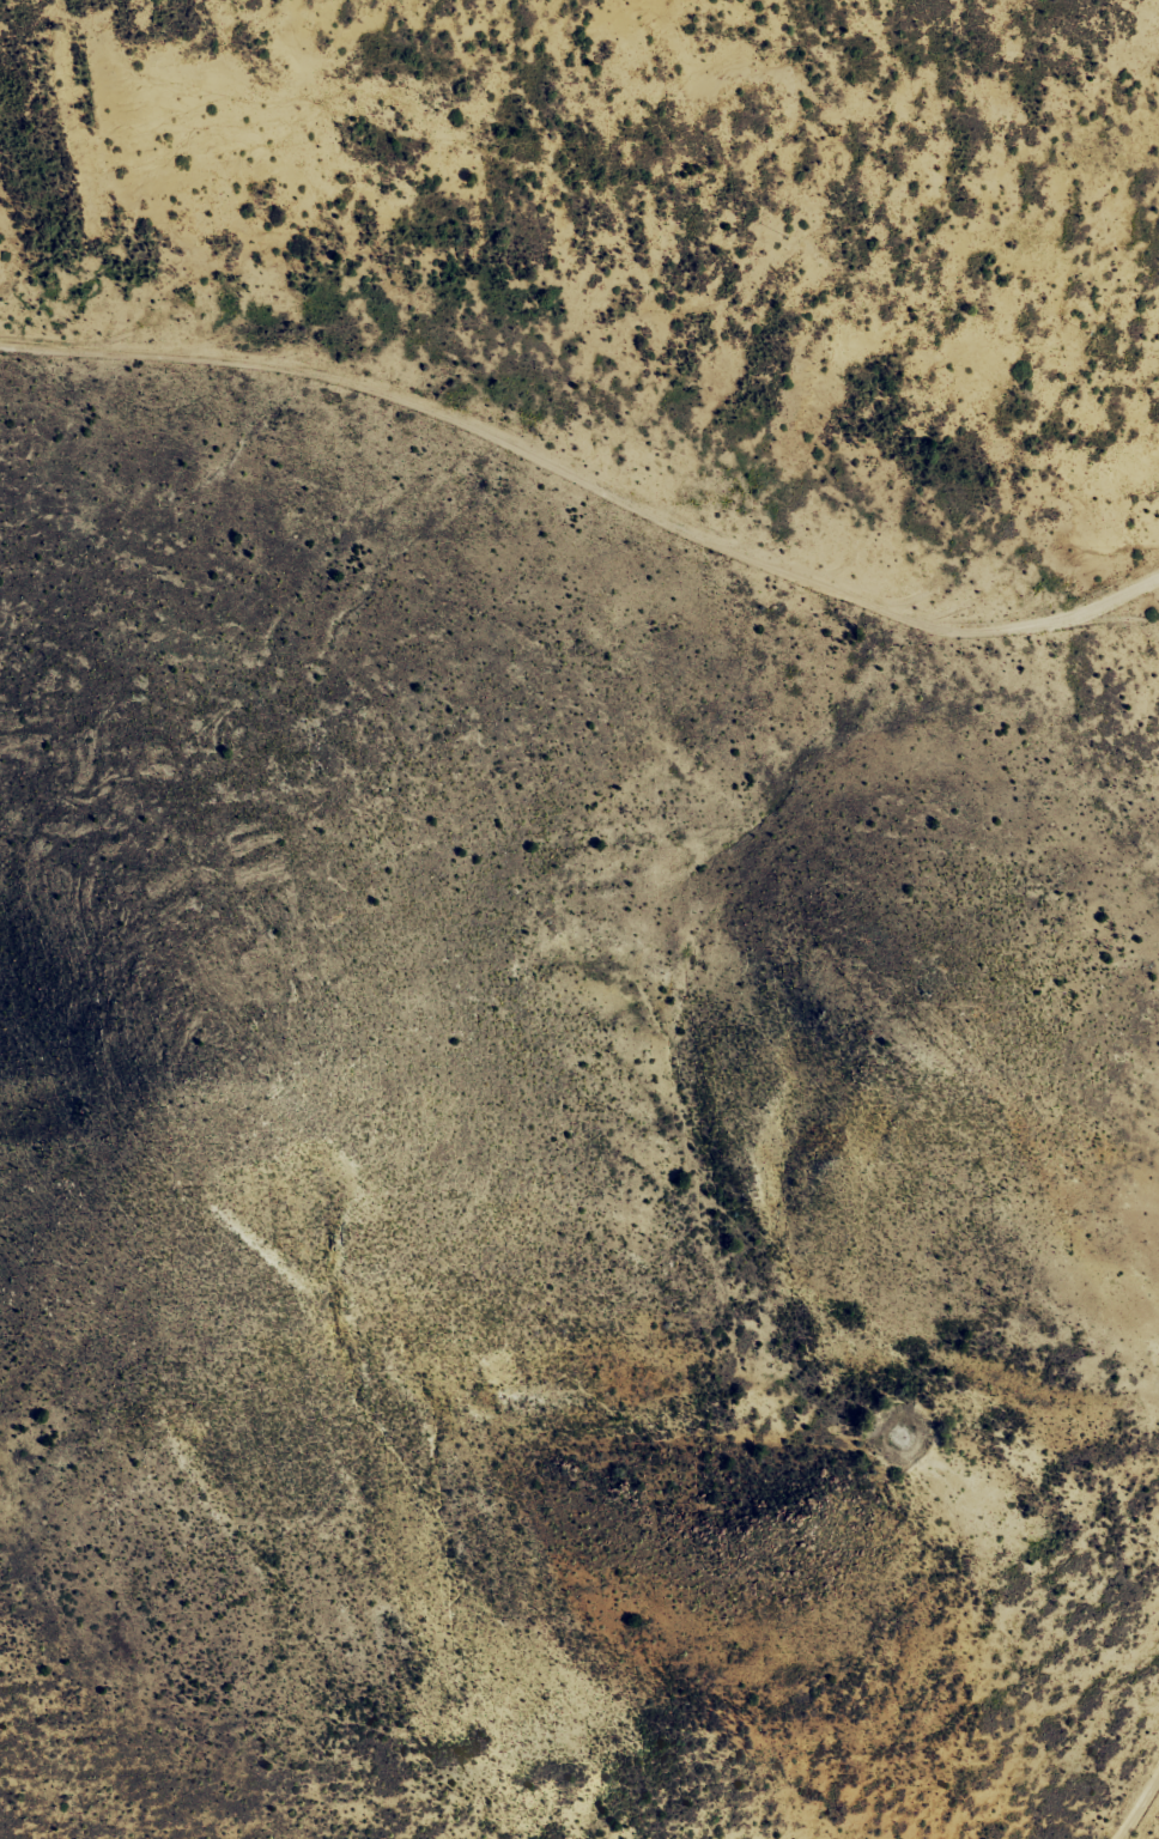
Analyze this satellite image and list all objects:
road: (585, 500)
road: (1131, 1795)

